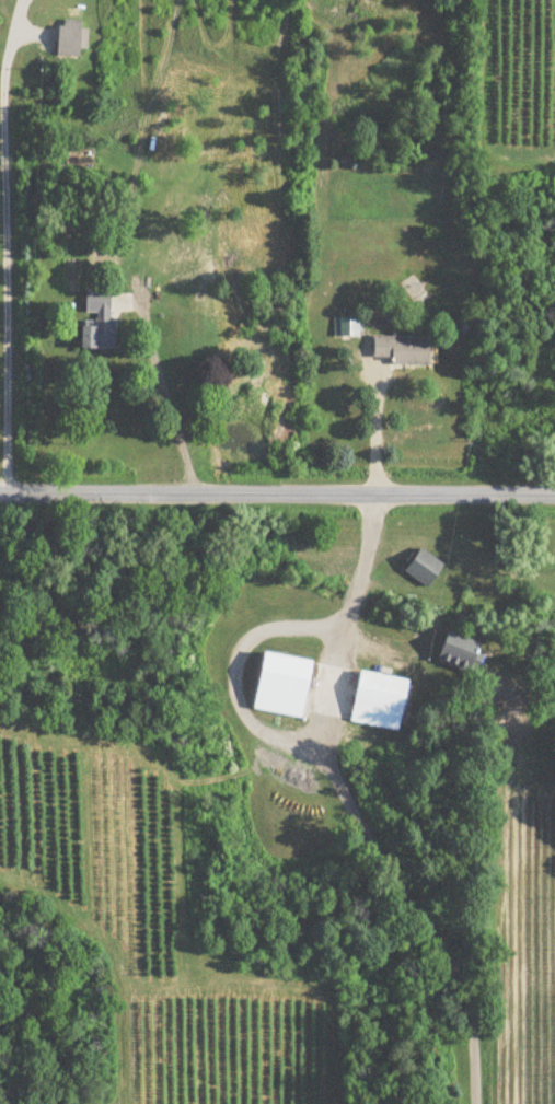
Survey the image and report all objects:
building: (72, 38)
building: (162, 117)
road: (8, 245)
building: (99, 321)
building: (403, 351)
road: (169, 397)
road: (378, 430)
road: (277, 495)
building: (281, 684)
road: (339, 690)
building: (379, 700)
road: (319, 752)

